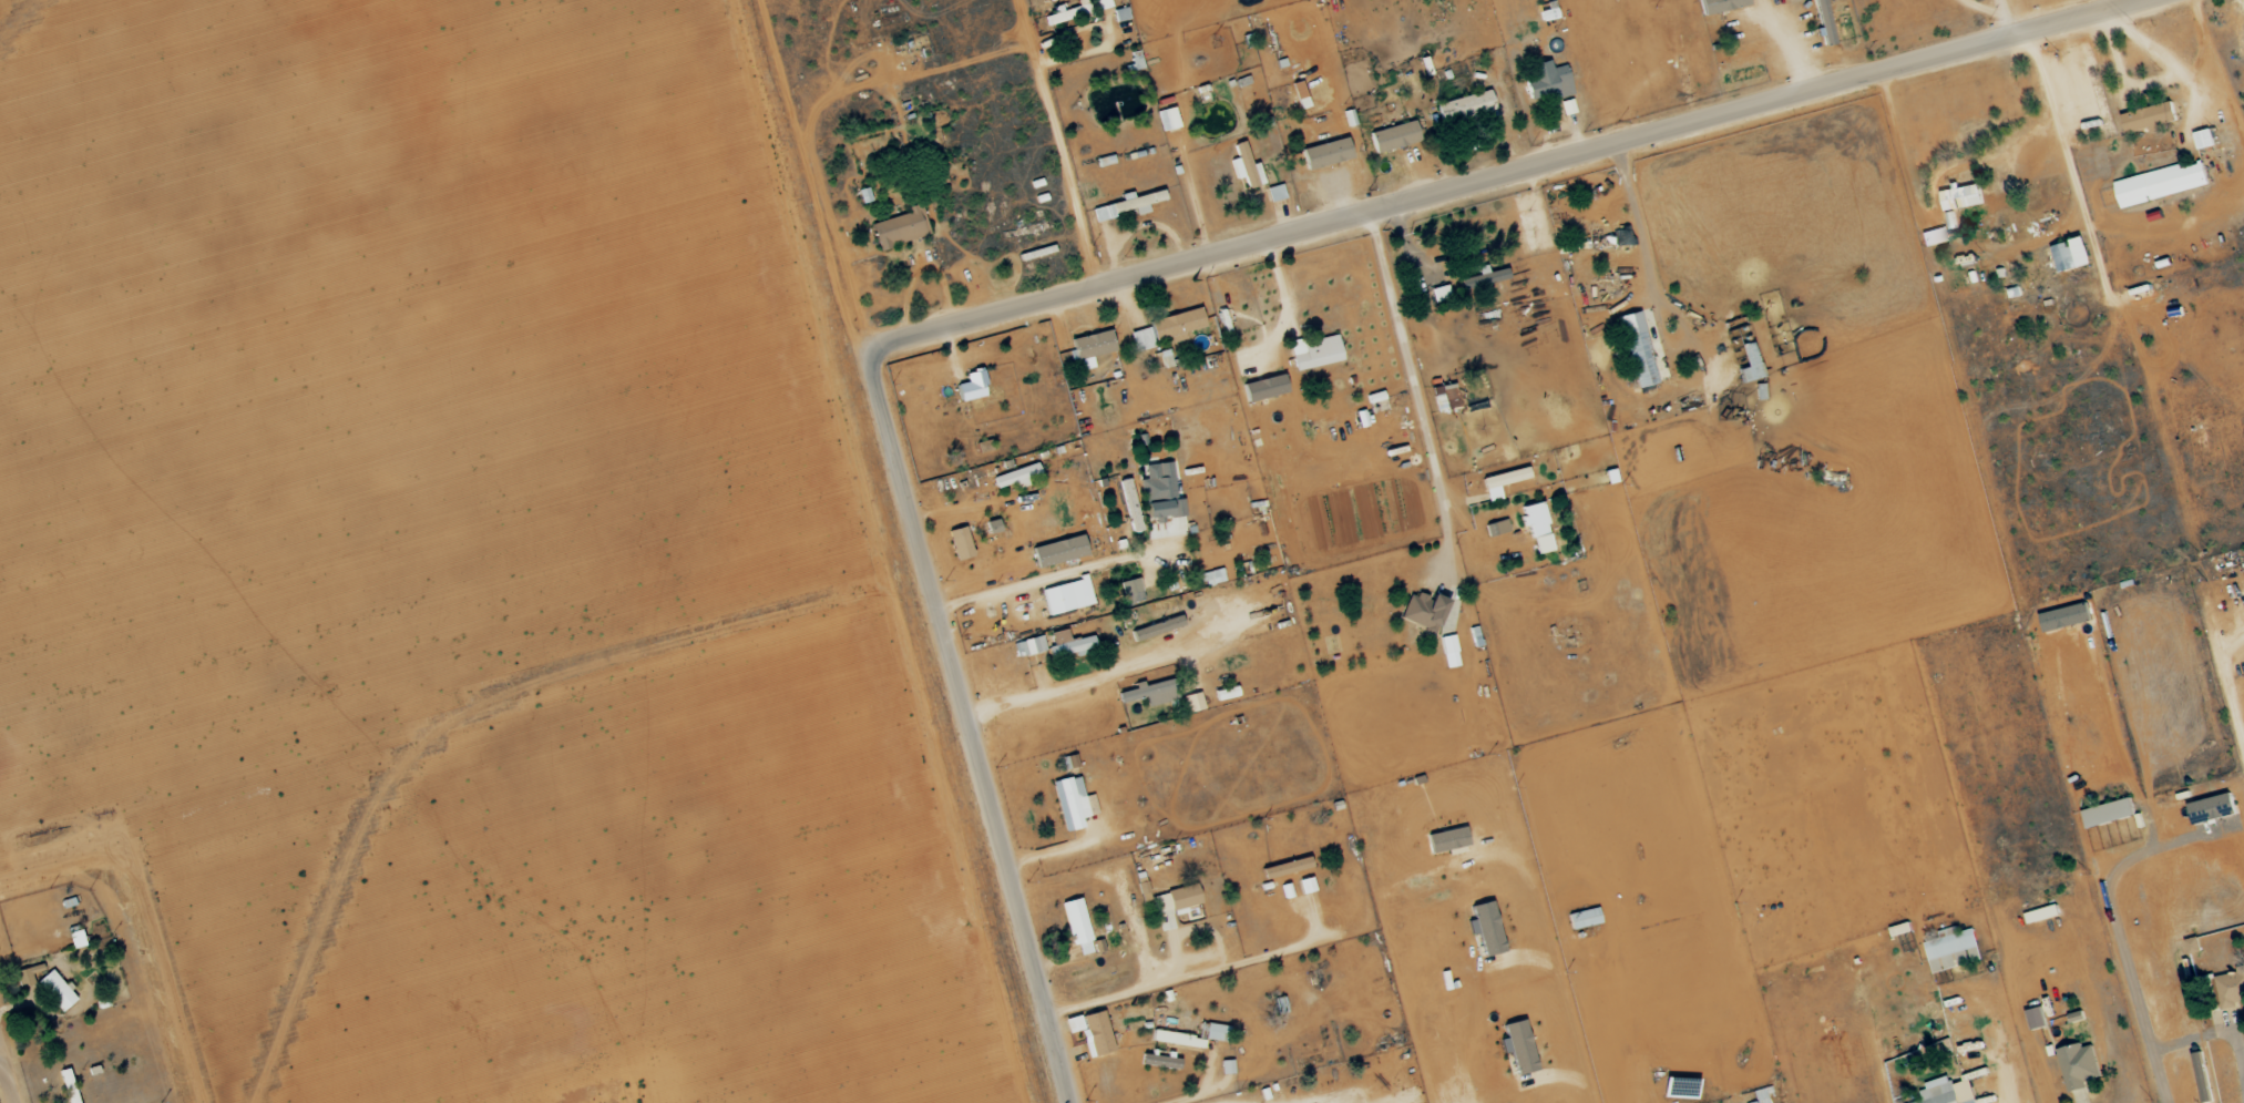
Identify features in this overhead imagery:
building: (1101, 4)
building: (1720, 6)
building: (1066, 12)
building: (1823, 21)
building: (1740, 53)
road: (1078, 55)
building: (1546, 82)
building: (1464, 108)
building: (1567, 108)
building: (2149, 119)
building: (1167, 120)
building: (1393, 137)
building: (2203, 140)
road: (1059, 145)
building: (1325, 154)
building: (1104, 162)
building: (1244, 167)
road: (1528, 177)
building: (2159, 184)
building: (1274, 193)
building: (863, 195)
building: (1961, 197)
building: (1126, 206)
building: (900, 228)
building: (1932, 237)
building: (2071, 255)
road: (921, 268)
building: (1488, 276)
building: (1438, 294)
road: (1652, 296)
road: (1283, 307)
building: (1176, 324)
building: (1140, 340)
building: (1090, 348)
building: (1636, 350)
building: (1313, 353)
building: (1165, 359)
building: (1748, 365)
building: (971, 387)
building: (1263, 389)
road: (1415, 396)
building: (1374, 398)
building: (1444, 398)
building: (1015, 478)
building: (1500, 483)
building: (1159, 492)
building: (1129, 507)
building: (992, 528)
building: (1536, 528)
building: (1496, 529)
building: (959, 544)
building: (1058, 552)
road: (1045, 578)
building: (1129, 593)
building: (1066, 596)
building: (1422, 611)
building: (1156, 627)
building: (1067, 644)
building: (1028, 647)
building: (1449, 652)
road: (1101, 677)
building: (1149, 694)
building: (1226, 694)
building: (1192, 703)
road: (973, 728)
building: (1069, 803)
building: (2212, 809)
building: (2108, 814)
building: (1445, 840)
building: (1284, 868)
building: (1305, 886)
building: (1174, 906)
building: (2041, 915)
building: (1582, 919)
building: (1075, 921)
building: (1485, 928)
building: (1900, 930)
road: (1203, 935)
road: (2120, 944)
building: (1083, 948)
building: (1953, 949)
building: (29, 974)
building: (54, 991)
building: (2228, 991)
building: (2036, 1018)
building: (1073, 1024)
road: (2216, 1032)
building: (1096, 1033)
building: (1216, 1033)
building: (1177, 1039)
building: (1517, 1046)
road: (2241, 1055)
building: (1159, 1062)
road: (2, 1064)
building: (2078, 1065)
building: (1227, 1066)
road: (7, 1075)
building: (68, 1086)
building: (1947, 1092)
road: (1199, 1093)
building: (1760, 1095)

